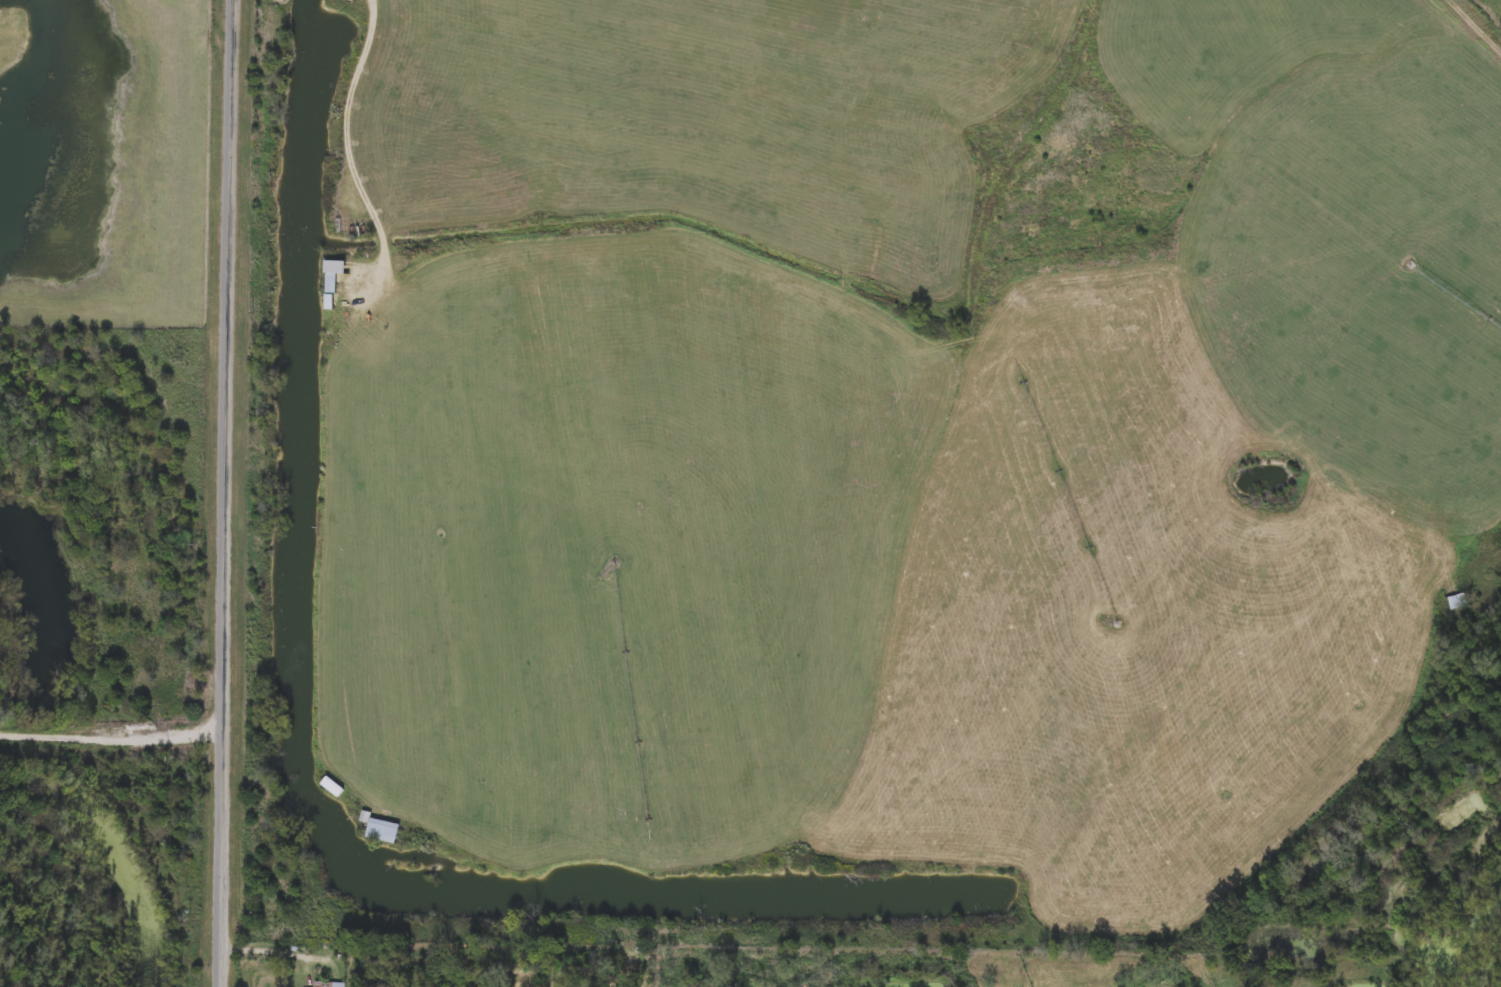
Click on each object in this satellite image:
road: (1476, 24)
road: (358, 153)
building: (334, 272)
building: (331, 300)
road: (229, 493)
building: (1459, 599)
road: (112, 739)
building: (334, 784)
building: (383, 825)
road: (274, 951)
building: (332, 983)

